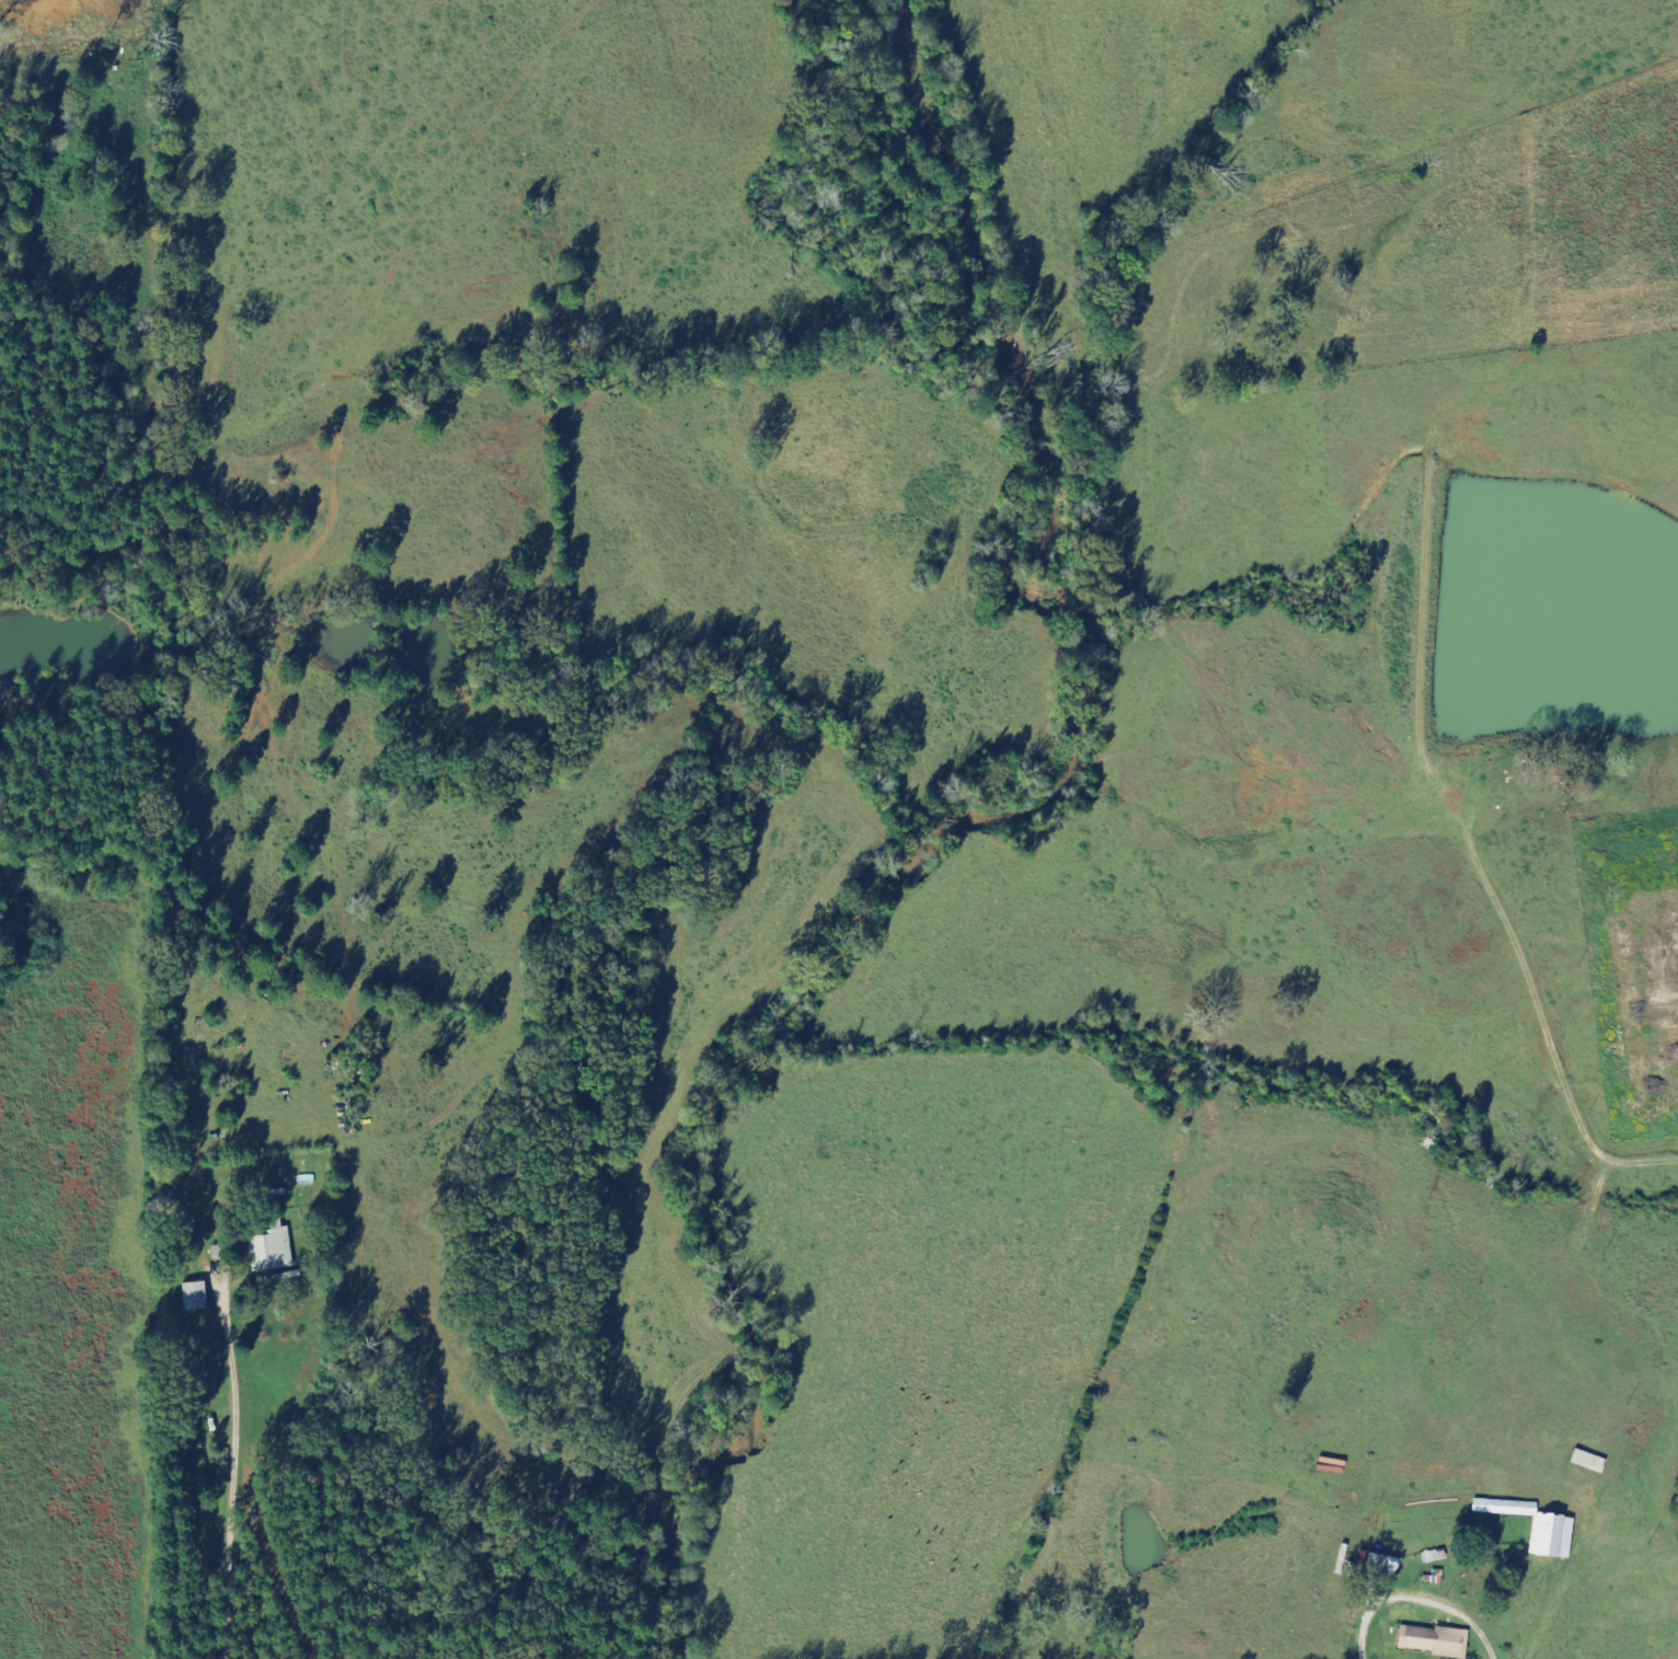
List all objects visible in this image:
building: (274, 1248)
building: (196, 1297)
road: (219, 1476)
building: (1538, 1526)
building: (1386, 1565)
building: (1436, 1641)

